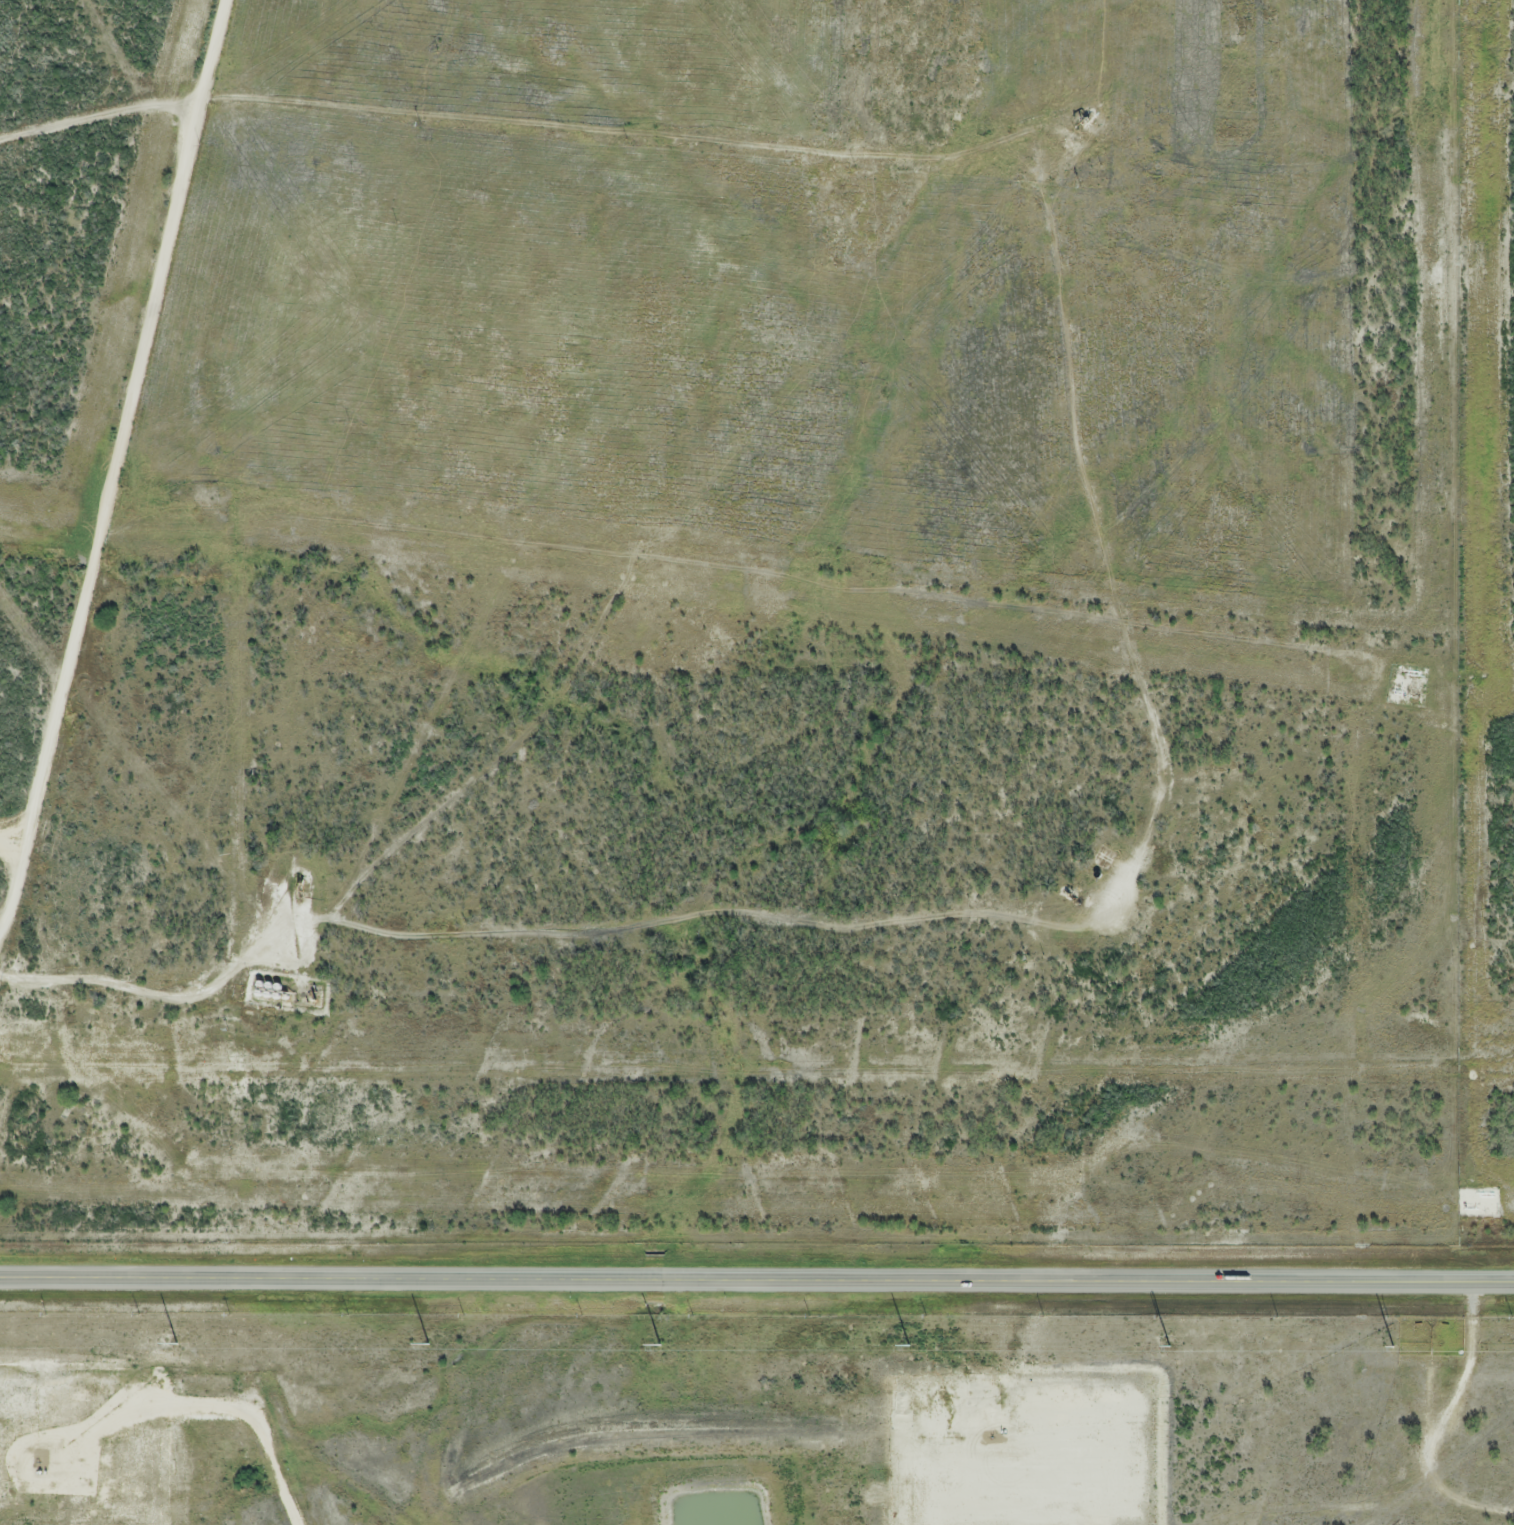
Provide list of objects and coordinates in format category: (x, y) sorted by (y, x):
road: (757, 1276)
power tower: (176, 1342)
power tower: (429, 1343)
power tower: (659, 1343)
power tower: (908, 1344)
power tower: (1169, 1346)
power tower: (1392, 1346)

